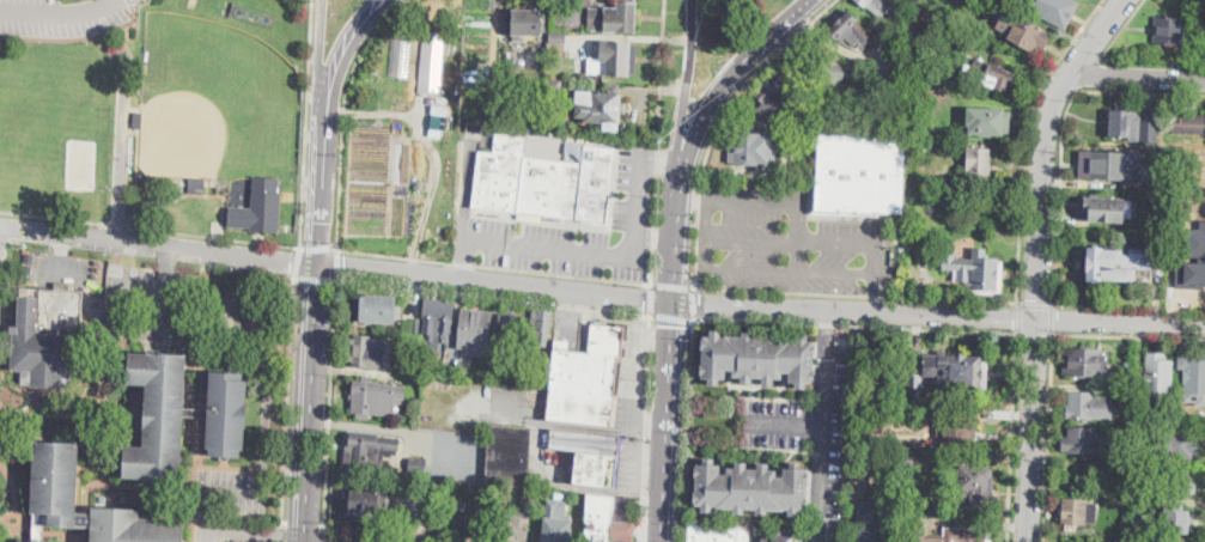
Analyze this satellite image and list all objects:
building: (902, 0)
parking lot: (36, 1)
road: (129, 1)
building: (960, 2)
building: (875, 6)
building: (1054, 11)
road: (59, 14)
building: (1197, 17)
building: (614, 18)
building: (524, 24)
parking lot: (62, 25)
building: (941, 25)
road: (1119, 29)
building: (848, 30)
building: (1170, 30)
building: (1027, 34)
road: (77, 36)
building: (559, 38)
building: (401, 54)
building: (521, 55)
road: (1152, 57)
building: (614, 61)
road: (340, 63)
building: (432, 63)
road: (318, 72)
road: (661, 72)
building: (824, 72)
road: (1087, 72)
road: (1140, 73)
building: (993, 75)
road: (729, 81)
building: (553, 89)
road: (1140, 90)
road: (684, 93)
park: (219, 97)
building: (780, 97)
building: (601, 108)
building: (442, 109)
road: (343, 112)
building: (144, 120)
building: (437, 121)
road: (720, 121)
building: (986, 121)
building: (1120, 122)
building: (1188, 123)
road: (308, 126)
building: (1149, 130)
road: (1024, 139)
building: (923, 146)
road: (434, 147)
road: (1041, 147)
park: (546, 148)
building: (750, 148)
road: (656, 158)
road: (657, 159)
building: (1176, 159)
building: (1189, 159)
park: (81, 163)
building: (1109, 163)
building: (979, 164)
road: (123, 166)
building: (499, 172)
building: (859, 176)
building: (196, 182)
building: (595, 182)
building: (420, 183)
building: (1157, 183)
building: (549, 185)
building: (1177, 185)
road: (1059, 194)
road: (693, 197)
road: (319, 205)
building: (258, 207)
building: (1102, 208)
road: (53, 218)
building: (990, 221)
road: (117, 224)
road: (653, 227)
road: (799, 231)
parking lot: (571, 232)
road: (655, 235)
road: (215, 236)
building: (909, 242)
road: (753, 243)
parking lot: (789, 243)
road: (676, 244)
road: (317, 245)
road: (854, 245)
road: (598, 254)
road: (61, 255)
road: (464, 258)
road: (294, 262)
building: (1114, 262)
road: (335, 263)
road: (494, 264)
building: (1193, 264)
parking lot: (59, 266)
road: (336, 267)
road: (717, 270)
building: (975, 270)
road: (312, 276)
road: (117, 284)
road: (671, 284)
road: (165, 293)
road: (492, 294)
road: (856, 294)
road: (881, 294)
road: (651, 298)
traffic signals: (644, 300)
road: (694, 302)
road: (1034, 303)
traffic signals: (701, 304)
road: (1128, 305)
parking lot: (139, 306)
building: (375, 309)
road: (854, 312)
parking lot: (237, 316)
road: (671, 316)
road: (1018, 317)
road: (1051, 317)
building: (438, 319)
road: (1120, 321)
traffic signals: (673, 324)
road: (854, 324)
building: (416, 327)
building: (510, 327)
building: (541, 328)
building: (475, 330)
road: (1034, 333)
road: (828, 334)
road: (1127, 334)
building: (50, 337)
road: (270, 345)
building: (369, 352)
building: (757, 358)
building: (1087, 361)
building: (568, 367)
building: (499, 372)
building: (961, 372)
building: (1193, 373)
building: (535, 376)
building: (1158, 377)
parking lot: (632, 379)
building: (1125, 379)
building: (594, 382)
building: (914, 386)
building: (1125, 395)
building: (375, 397)
road: (668, 398)
road: (309, 401)
road: (329, 402)
parking lot: (479, 402)
road: (290, 404)
building: (1089, 407)
building: (196, 413)
building: (227, 414)
building: (158, 415)
building: (1142, 420)
building: (883, 422)
road: (369, 425)
road: (786, 426)
road: (584, 427)
road: (646, 428)
road: (688, 430)
road: (1030, 430)
building: (954, 436)
road: (1011, 437)
road: (1046, 437)
building: (1081, 439)
parking lot: (811, 440)
building: (1176, 445)
building: (370, 447)
road: (824, 449)
parking lot: (455, 451)
building: (591, 455)
building: (1125, 455)
building: (510, 456)
building: (908, 459)
building: (418, 463)
parking lot: (549, 463)
building: (860, 468)
building: (1099, 469)
building: (1140, 470)
building: (1169, 485)
building: (57, 486)
building: (975, 486)
road: (213, 488)
building: (750, 488)
road: (602, 489)
parking lot: (232, 491)
building: (529, 497)
parking lot: (413, 499)
building: (366, 500)
building: (623, 507)
building: (1076, 512)
building: (470, 518)
road: (663, 518)
building: (605, 520)
building: (1137, 520)
building: (556, 522)
building: (1179, 522)
building: (134, 526)
building: (513, 526)
road: (247, 532)
building: (718, 532)
road: (323, 534)
road: (400, 534)
building: (778, 535)
building: (871, 535)
building: (953, 535)
building: (36, 540)
road: (300, 540)
road: (317, 540)

